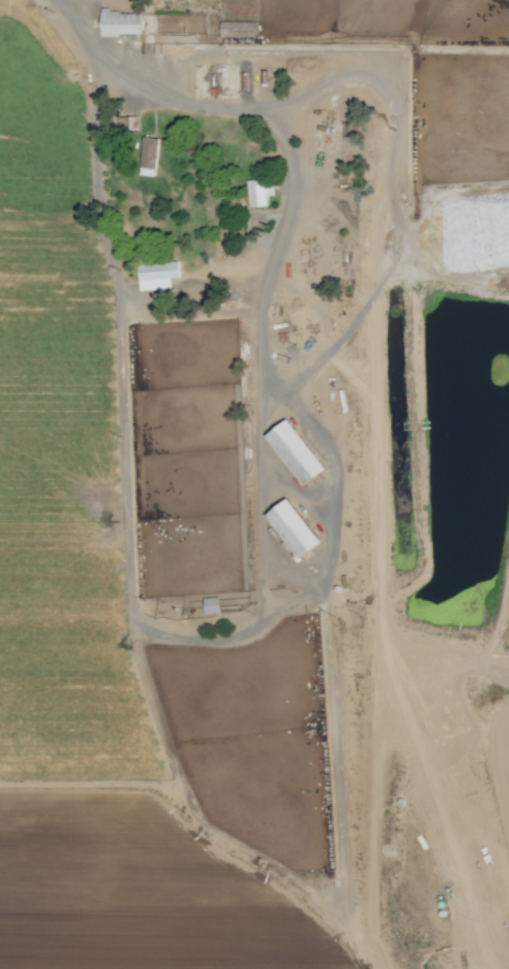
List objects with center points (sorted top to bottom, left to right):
road: (67, 1)
building: (121, 23)
building: (238, 30)
road: (92, 34)
building: (127, 124)
building: (149, 157)
building: (257, 194)
building: (157, 272)
road: (197, 310)
building: (296, 451)
building: (295, 529)
road: (270, 560)
building: (211, 605)

